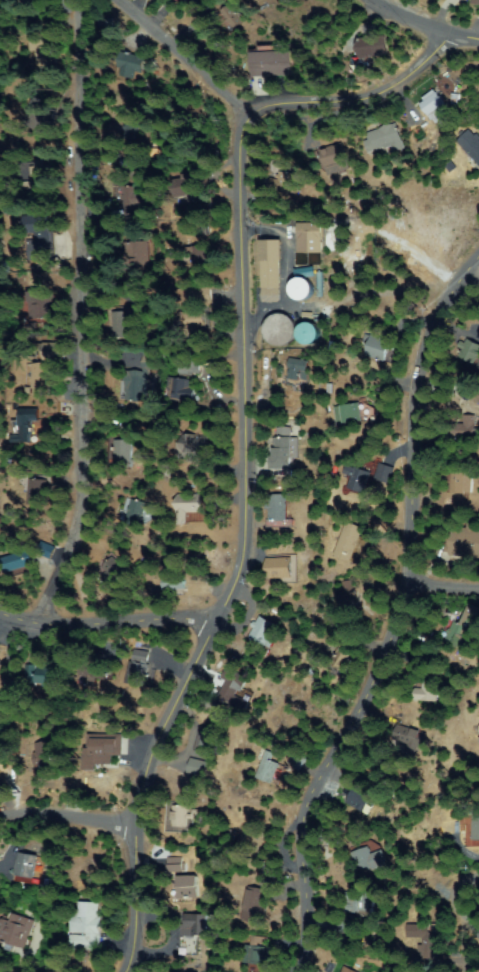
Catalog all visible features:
building: (192, 0)
building: (460, 0)
building: (475, 0)
building: (227, 18)
road: (430, 23)
building: (372, 45)
building: (43, 58)
building: (273, 64)
road: (151, 66)
building: (130, 67)
road: (358, 100)
building: (432, 105)
building: (36, 114)
building: (134, 126)
building: (380, 139)
building: (470, 144)
building: (330, 159)
building: (36, 181)
building: (280, 182)
building: (179, 186)
building: (125, 197)
building: (192, 197)
building: (42, 229)
building: (311, 237)
building: (137, 254)
building: (194, 255)
building: (181, 260)
building: (270, 271)
building: (303, 272)
building: (320, 284)
building: (297, 288)
storage tank: (301, 289)
building: (200, 293)
building: (34, 304)
road: (57, 309)
building: (42, 315)
building: (308, 316)
building: (195, 319)
building: (122, 323)
building: (276, 329)
storage tank: (279, 330)
building: (304, 332)
storage tank: (308, 334)
building: (377, 346)
building: (55, 350)
building: (470, 351)
building: (190, 366)
building: (151, 368)
building: (299, 375)
building: (41, 377)
building: (180, 388)
building: (130, 390)
building: (345, 414)
building: (27, 425)
building: (461, 425)
building: (471, 426)
building: (193, 443)
building: (122, 450)
building: (282, 453)
building: (381, 472)
building: (358, 478)
building: (460, 481)
building: (36, 492)
building: (187, 505)
building: (277, 506)
building: (135, 509)
building: (349, 538)
building: (464, 541)
road: (225, 557)
building: (14, 565)
building: (112, 566)
building: (279, 568)
building: (174, 583)
road: (442, 587)
building: (349, 600)
road: (396, 620)
road: (100, 625)
building: (264, 631)
building: (463, 631)
building: (341, 655)
building: (1, 658)
building: (139, 668)
building: (96, 672)
building: (48, 675)
building: (427, 690)
building: (233, 691)
building: (478, 727)
building: (410, 737)
building: (208, 739)
building: (101, 749)
building: (45, 756)
building: (196, 766)
building: (270, 768)
building: (359, 795)
building: (176, 814)
building: (187, 819)
road: (56, 823)
building: (476, 828)
building: (252, 839)
building: (370, 859)
building: (25, 864)
building: (176, 864)
building: (189, 887)
road: (452, 896)
building: (362, 904)
building: (257, 905)
building: (198, 925)
building: (339, 926)
building: (86, 927)
building: (14, 929)
building: (425, 938)
building: (185, 944)
building: (257, 952)
building: (347, 970)
building: (0, 971)

